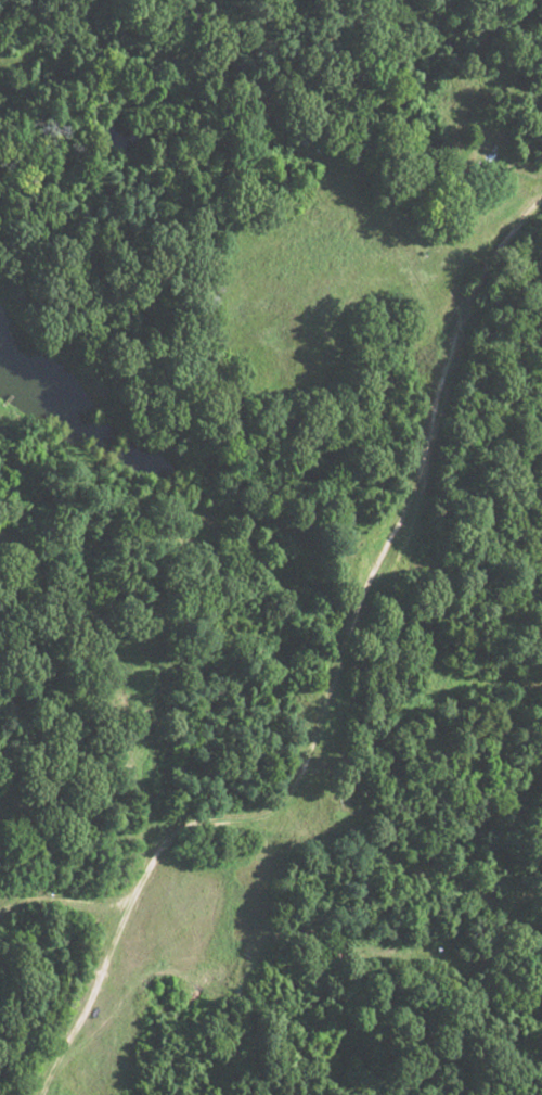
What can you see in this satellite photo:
building: (299, 747)

